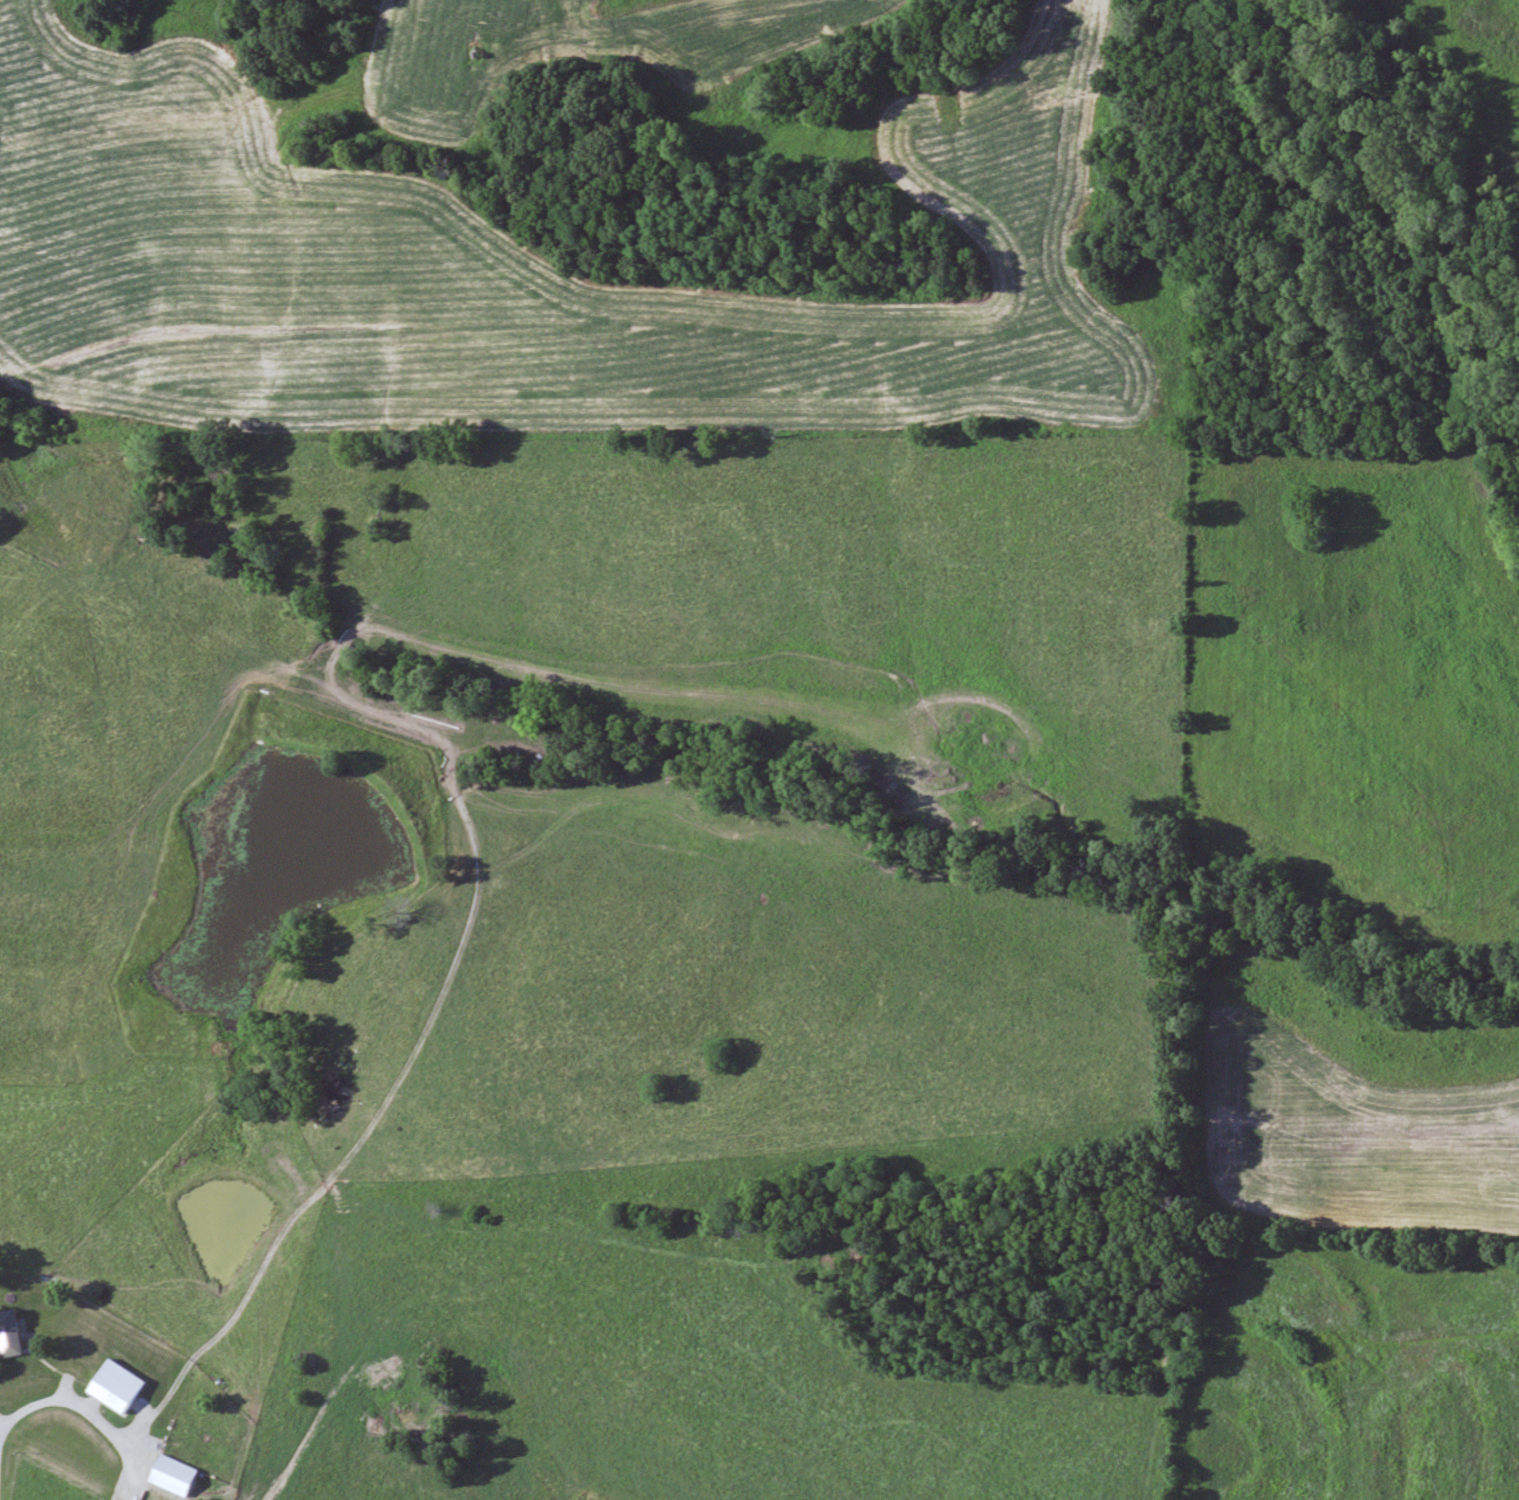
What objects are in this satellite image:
building: (17, 1333)
building: (124, 1386)
road: (8, 1424)
building: (174, 1476)

